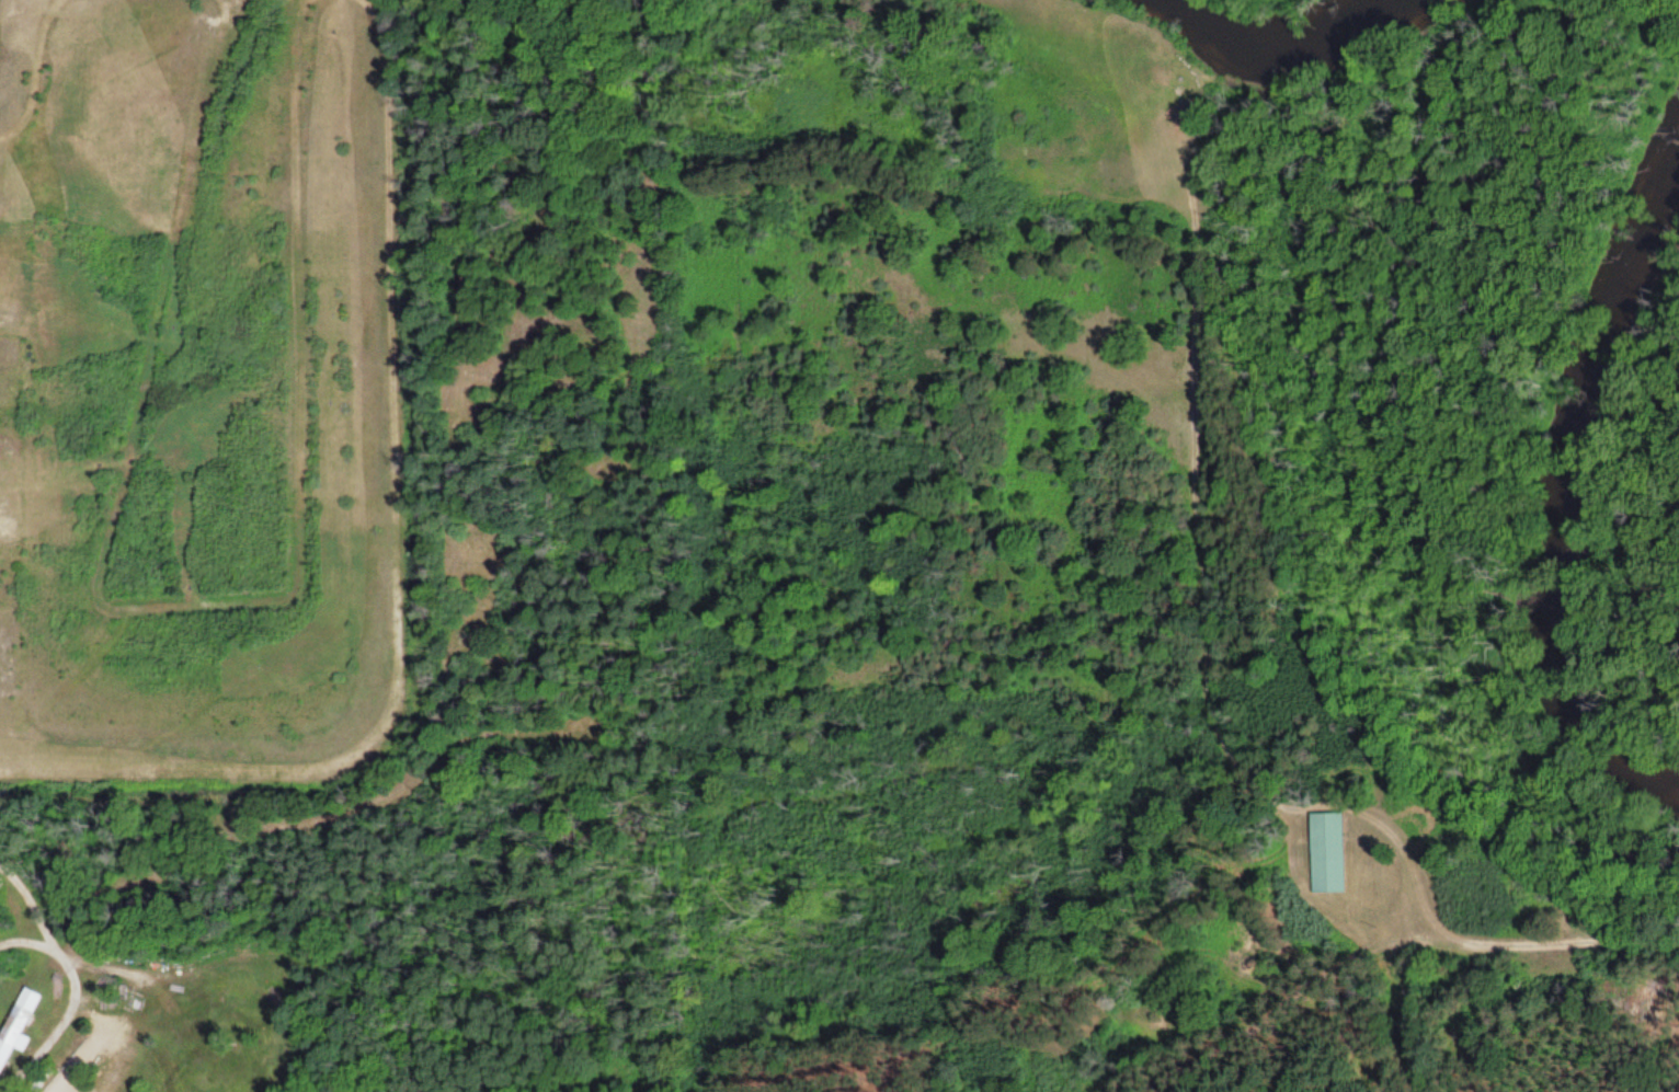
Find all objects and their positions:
river: (1261, 46)
river: (1552, 497)
park: (361, 541)
building: (1329, 852)
building: (18, 1025)

